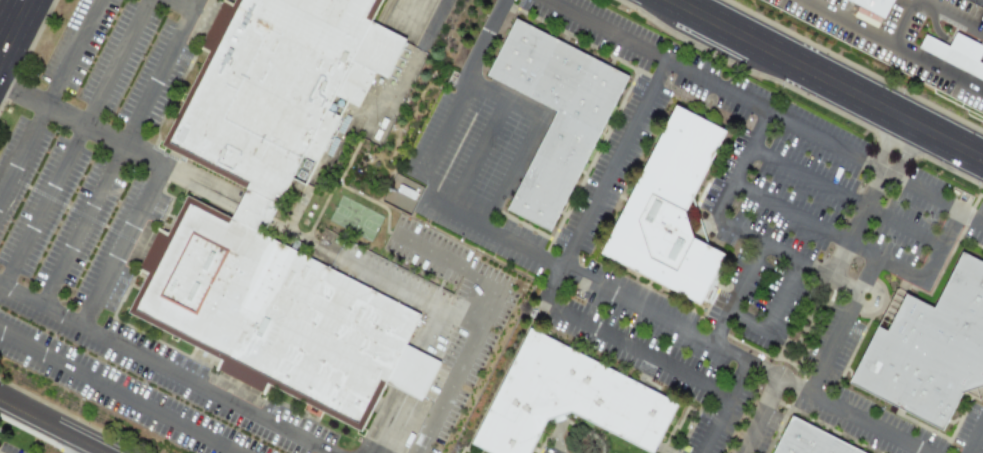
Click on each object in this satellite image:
building: (852, 1)
road: (184, 4)
road: (195, 4)
building: (876, 5)
road: (4, 9)
road: (949, 16)
road: (850, 21)
road: (32, 39)
road: (947, 40)
road: (415, 53)
building: (956, 53)
road: (916, 56)
road: (159, 78)
road: (827, 79)
building: (267, 94)
road: (49, 96)
road: (512, 109)
road: (764, 110)
road: (81, 123)
road: (75, 142)
road: (474, 157)
building: (562, 158)
road: (614, 165)
road: (845, 195)
road: (871, 199)
building: (673, 217)
road: (81, 224)
road: (736, 227)
road: (826, 230)
road: (121, 245)
road: (941, 245)
road: (737, 293)
road: (612, 295)
road: (787, 296)
road: (483, 319)
road: (749, 321)
building: (280, 324)
road: (843, 325)
road: (620, 342)
building: (933, 354)
road: (165, 368)
road: (115, 393)
building: (573, 398)
road: (726, 407)
road: (760, 415)
road: (54, 426)
road: (392, 432)
road: (974, 437)
building: (814, 440)
road: (76, 446)

